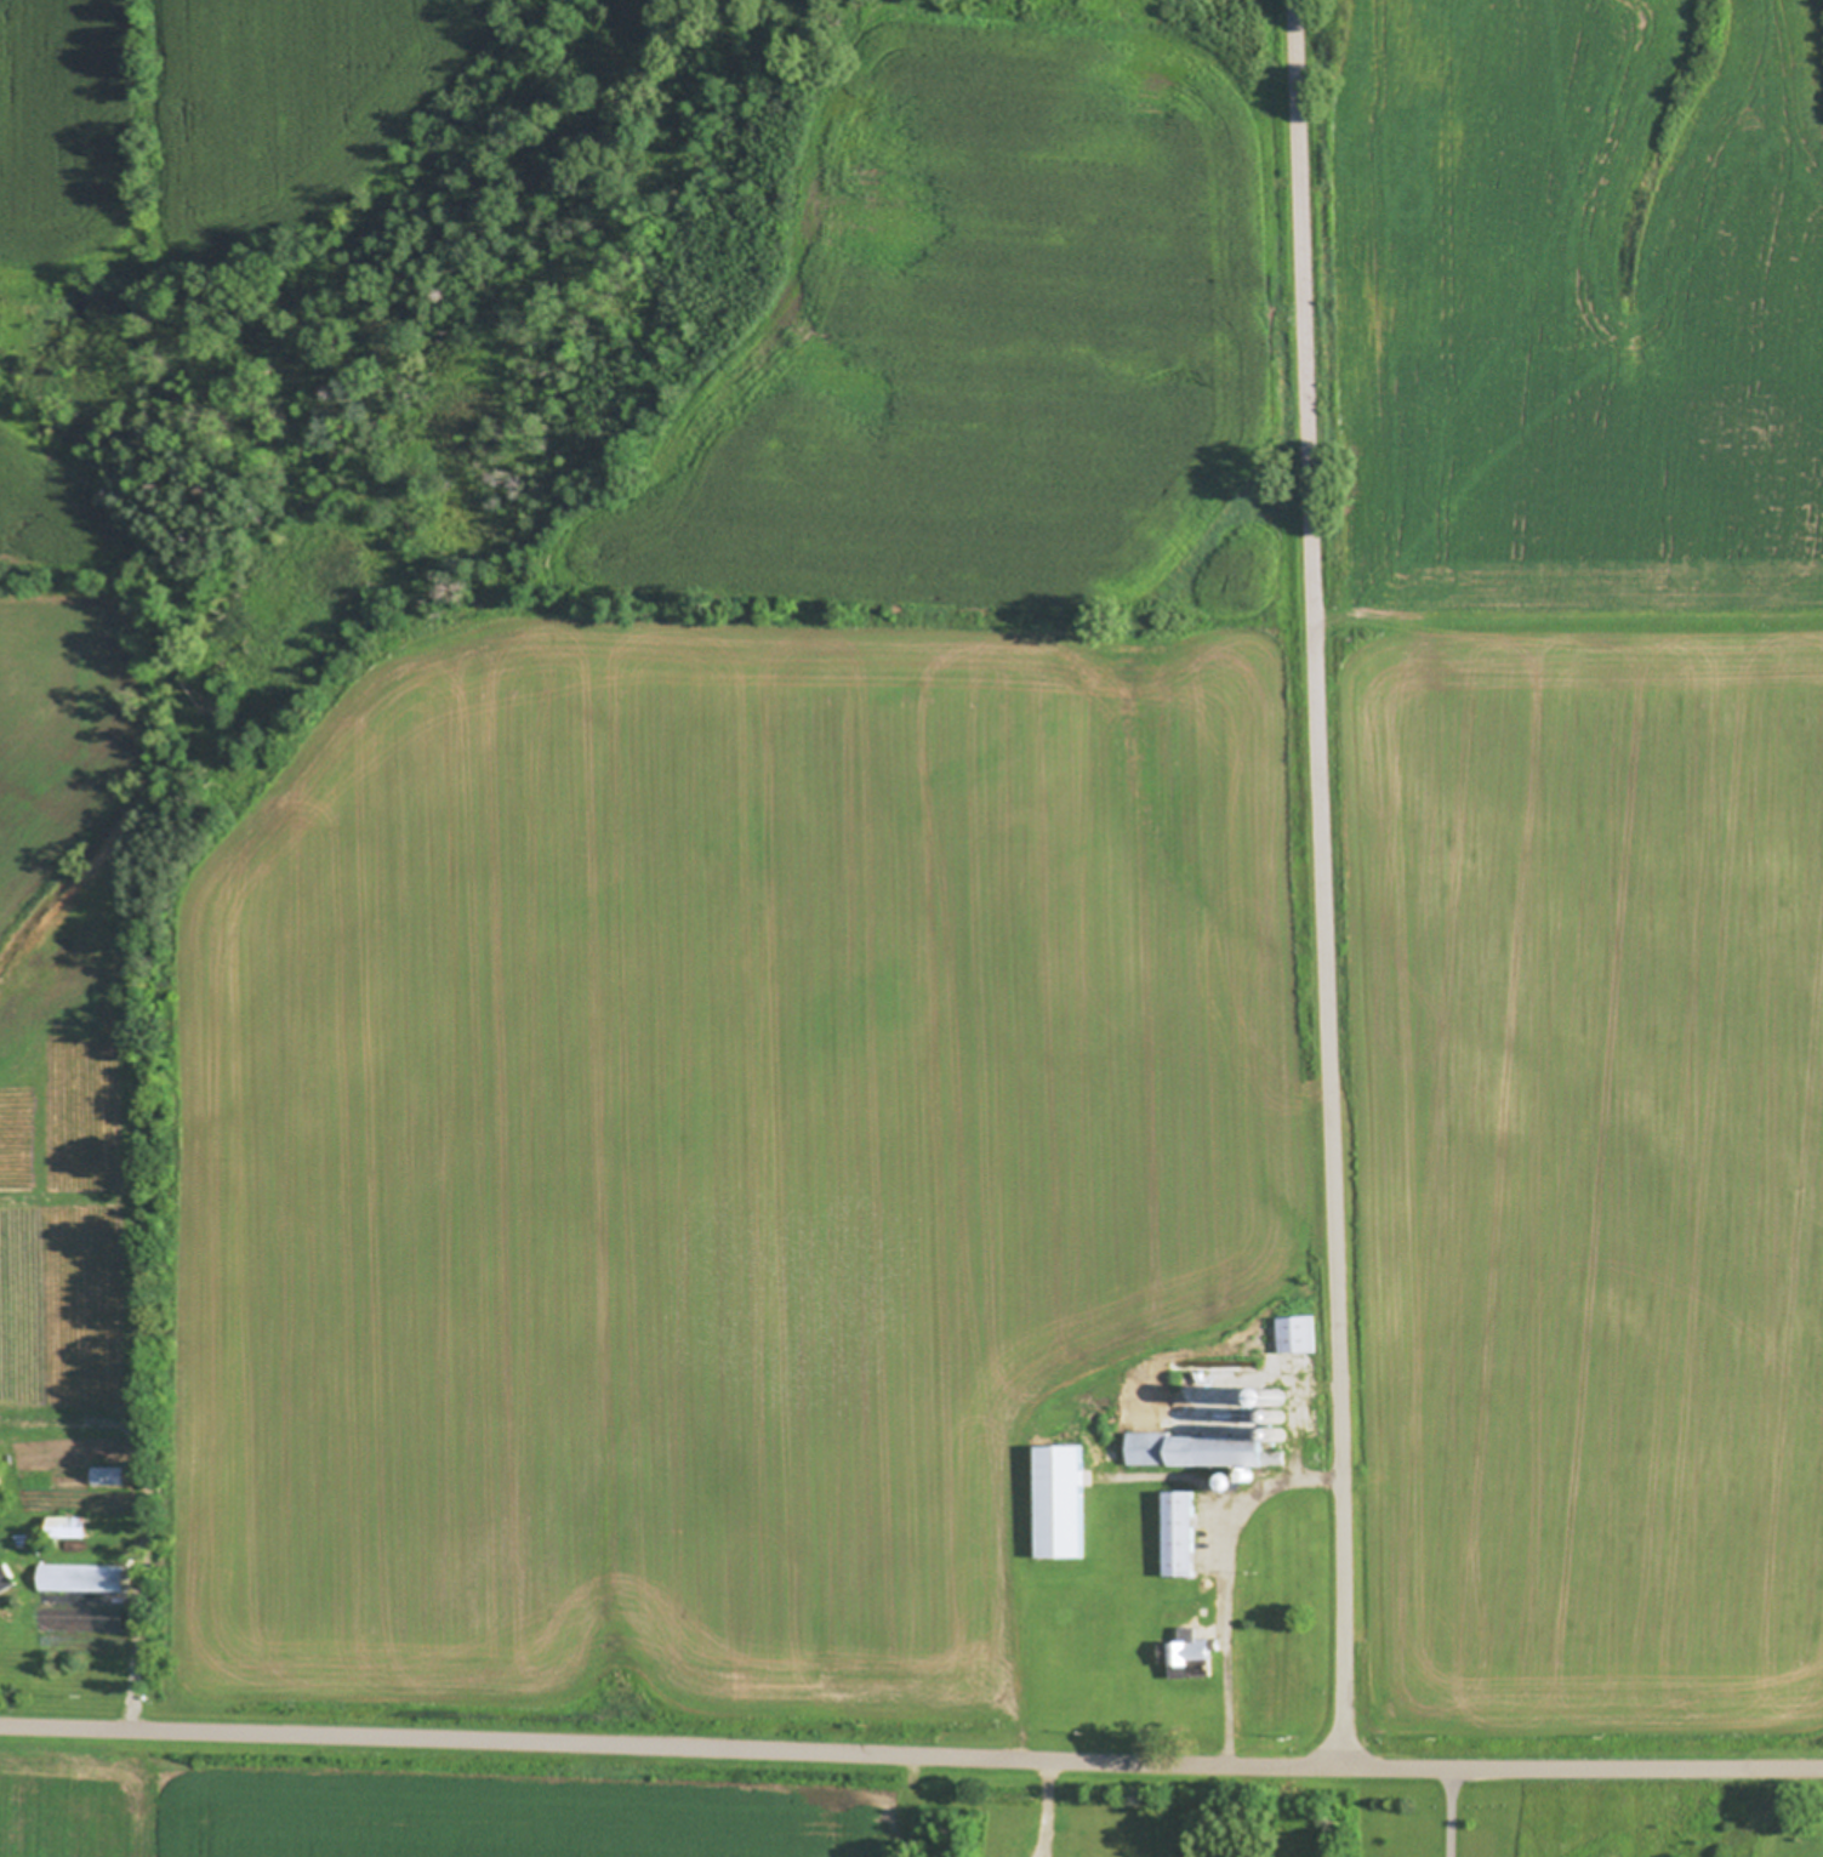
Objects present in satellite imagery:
road: (1322, 884)
building: (1298, 1333)
building: (1277, 1390)
building: (1278, 1414)
building: (1280, 1432)
building: (1201, 1448)
building: (1248, 1474)
building: (1231, 1481)
building: (1061, 1500)
building: (68, 1526)
building: (1180, 1533)
building: (7, 1576)
building: (84, 1578)
building: (1191, 1652)
road: (911, 1755)
road: (1453, 1813)

